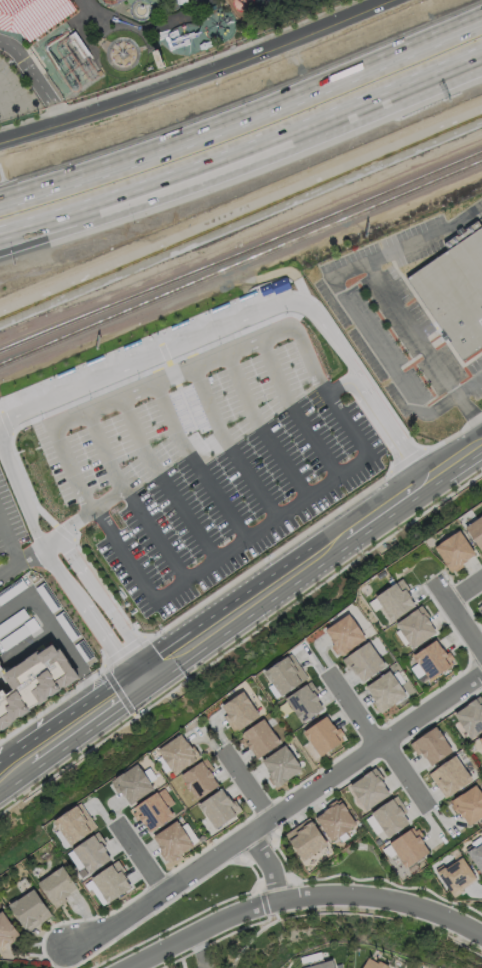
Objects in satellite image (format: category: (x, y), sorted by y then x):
building: (269, 1)
building: (179, 2)
building: (211, 7)
road: (86, 9)
building: (31, 15)
railway: (275, 26)
road: (153, 29)
road: (78, 30)
building: (98, 40)
theme park: (126, 43)
building: (78, 44)
building: (157, 58)
road: (36, 64)
road: (195, 77)
road: (33, 80)
parking lot: (14, 94)
road: (244, 119)
road: (301, 136)
road: (58, 219)
road: (59, 232)
railway: (241, 254)
railway: (240, 266)
road: (387, 292)
building: (456, 292)
road: (253, 299)
road: (248, 320)
road: (375, 346)
road: (163, 380)
road: (469, 385)
road: (292, 413)
road: (24, 423)
road: (259, 430)
road: (228, 447)
parking lot: (183, 455)
road: (453, 460)
road: (194, 465)
road: (162, 483)
road: (21, 499)
road: (130, 500)
road: (86, 517)
road: (263, 529)
building: (475, 529)
road: (9, 543)
building: (453, 551)
road: (24, 562)
road: (278, 580)
road: (465, 591)
building: (393, 600)
road: (105, 601)
road: (15, 607)
building: (479, 607)
road: (88, 615)
road: (456, 617)
building: (414, 627)
building: (345, 631)
road: (68, 649)
building: (366, 659)
building: (430, 660)
building: (1, 668)
traffic signals: (153, 669)
building: (284, 675)
building: (33, 683)
traffic signals: (134, 683)
building: (384, 691)
building: (304, 701)
building: (239, 711)
building: (470, 716)
road: (79, 720)
building: (323, 734)
building: (259, 738)
road: (381, 739)
building: (480, 739)
building: (431, 745)
building: (177, 755)
building: (280, 765)
road: (13, 766)
building: (449, 776)
building: (199, 778)
building: (133, 783)
road: (246, 785)
building: (369, 786)
building: (468, 803)
building: (219, 808)
building: (154, 809)
road: (274, 815)
building: (387, 817)
building: (335, 820)
building: (74, 825)
building: (305, 838)
building: (172, 841)
building: (406, 847)
building: (89, 852)
building: (475, 855)
road: (137, 857)
road: (272, 864)
building: (82, 872)
building: (455, 876)
building: (108, 882)
building: (57, 885)
road: (302, 900)
building: (29, 909)
building: (7, 930)
road: (201, 950)
building: (315, 961)
building: (374, 964)

